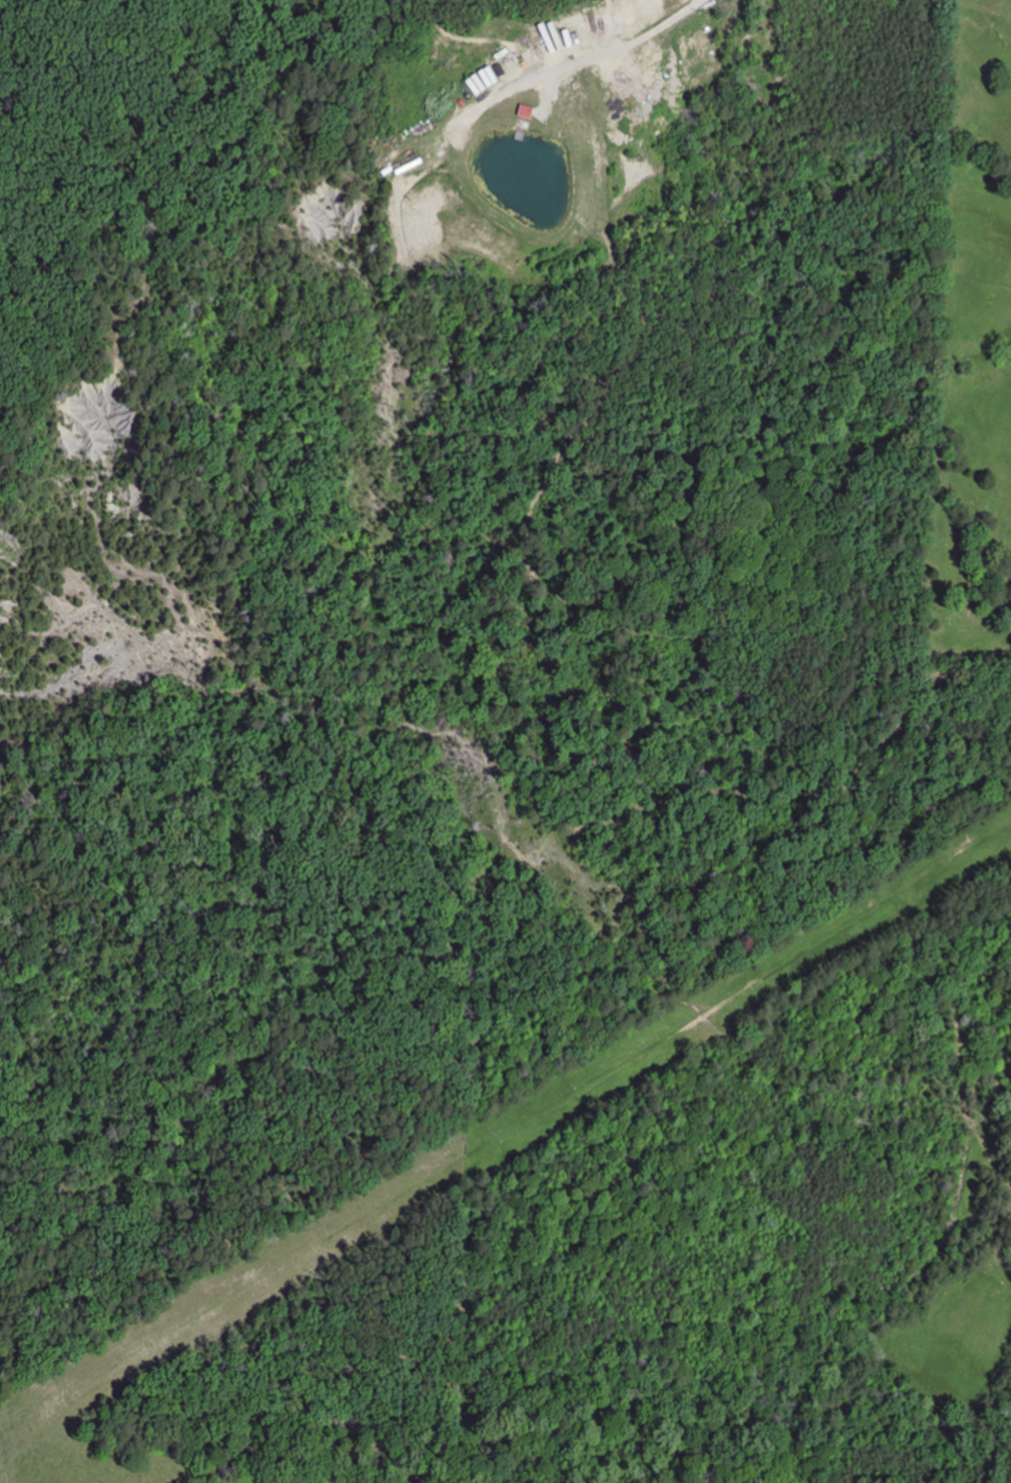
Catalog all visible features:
road: (629, 48)

